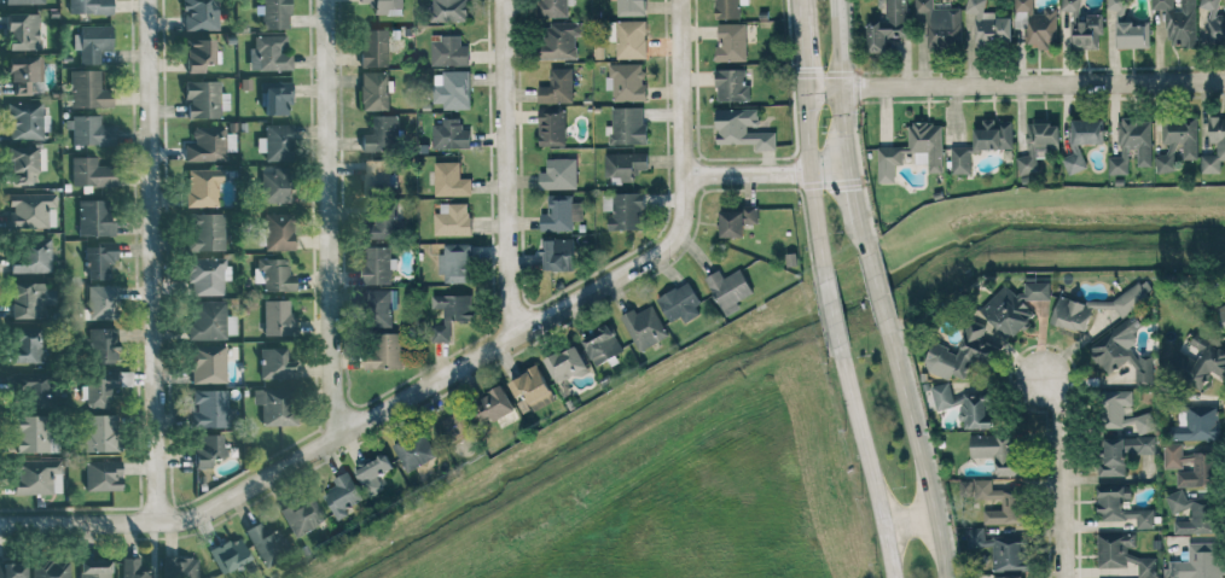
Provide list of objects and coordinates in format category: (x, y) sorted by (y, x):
building: (24, 1)
building: (92, 6)
building: (385, 6)
building: (555, 7)
building: (631, 7)
building: (728, 7)
building: (448, 10)
building: (275, 13)
building: (201, 14)
building: (1179, 21)
building: (1213, 21)
building: (940, 23)
building: (1039, 23)
building: (887, 24)
building: (985, 24)
building: (1082, 25)
building: (1128, 28)
building: (23, 30)
building: (631, 39)
building: (561, 40)
building: (731, 41)
building: (92, 42)
road: (841, 43)
building: (375, 47)
building: (449, 51)
building: (198, 53)
building: (269, 53)
building: (24, 72)
building: (627, 81)
road: (1034, 82)
building: (732, 84)
building: (557, 87)
road: (823, 88)
building: (88, 89)
building: (375, 89)
building: (275, 97)
building: (205, 98)
building: (25, 119)
building: (628, 124)
building: (551, 127)
road: (846, 127)
building: (742, 128)
building: (91, 130)
building: (382, 133)
building: (449, 134)
road: (684, 134)
road: (805, 140)
building: (1082, 140)
building: (277, 141)
building: (209, 142)
building: (982, 142)
building: (1038, 144)
building: (1132, 144)
building: (1220, 147)
building: (24, 162)
road: (509, 164)
building: (623, 165)
building: (92, 171)
building: (559, 173)
road: (767, 173)
building: (376, 175)
building: (451, 179)
building: (275, 185)
building: (203, 186)
road: (854, 193)
building: (31, 209)
building: (627, 211)
road: (332, 214)
building: (561, 214)
building: (95, 216)
building: (453, 217)
building: (737, 220)
building: (385, 223)
building: (207, 230)
building: (279, 230)
road: (864, 239)
building: (555, 255)
building: (33, 256)
building: (100, 259)
road: (156, 261)
building: (457, 262)
building: (378, 263)
building: (275, 274)
building: (208, 275)
building: (730, 288)
road: (876, 290)
building: (1037, 290)
building: (28, 299)
building: (103, 300)
building: (680, 302)
building: (379, 306)
building: (1221, 309)
road: (832, 311)
building: (449, 313)
building: (1006, 313)
building: (278, 316)
building: (211, 320)
building: (644, 326)
building: (25, 344)
building: (103, 344)
building: (603, 344)
building: (387, 351)
building: (960, 352)
building: (1122, 354)
building: (208, 363)
building: (277, 363)
building: (567, 363)
building: (105, 385)
building: (34, 387)
building: (532, 389)
building: (493, 404)
building: (278, 405)
building: (965, 405)
building: (210, 407)
building: (1113, 409)
road: (459, 410)
building: (1197, 422)
building: (33, 432)
building: (101, 432)
road: (338, 433)
building: (1143, 444)
building: (207, 448)
road: (921, 449)
building: (414, 451)
building: (997, 453)
building: (1113, 456)
road: (867, 460)
building: (1191, 465)
building: (373, 472)
road: (1063, 473)
building: (103, 474)
building: (36, 475)
building: (343, 494)
building: (1011, 503)
building: (1121, 507)
building: (1192, 513)
building: (302, 514)
road: (911, 516)
building: (266, 542)
building: (999, 548)
building: (228, 554)
building: (1124, 554)
building: (1200, 561)
building: (179, 566)
building: (50, 568)
building: (94, 568)
building: (134, 568)
building: (12, 570)
building: (1009, 576)

